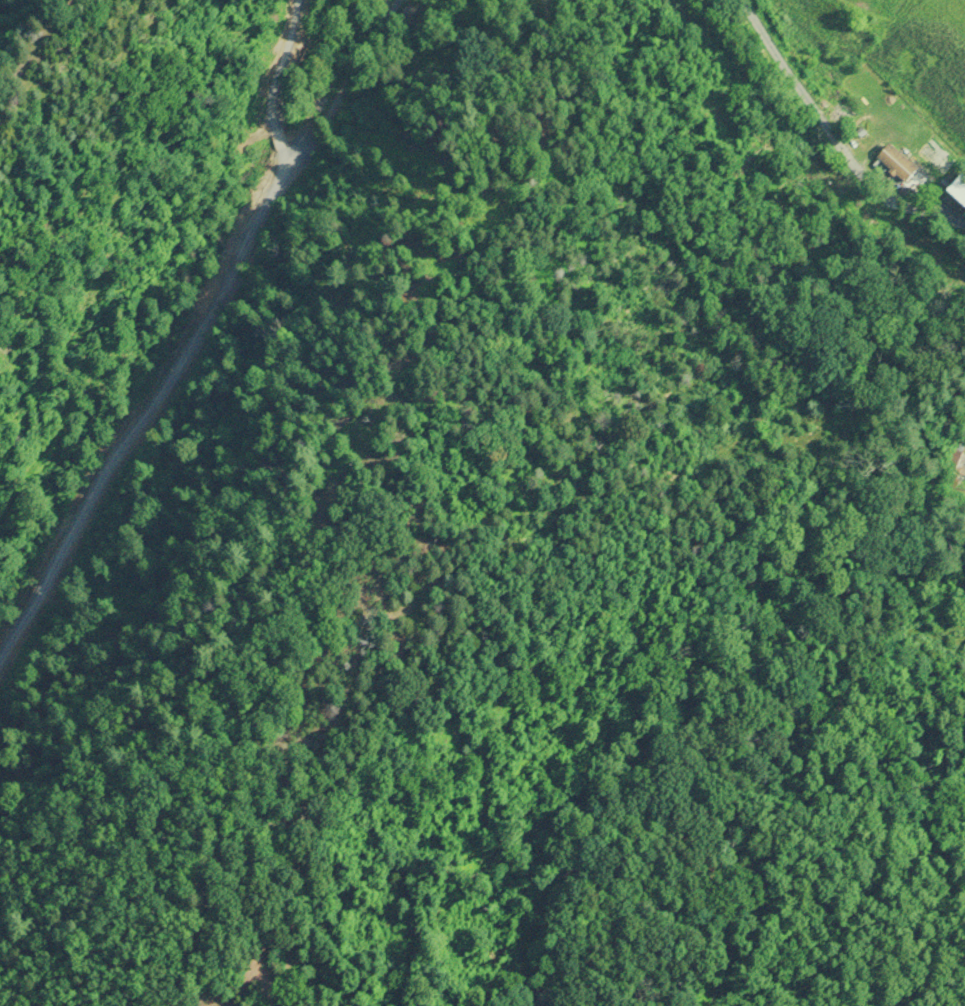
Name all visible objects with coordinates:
road: (836, 133)
building: (961, 189)
road: (214, 380)

